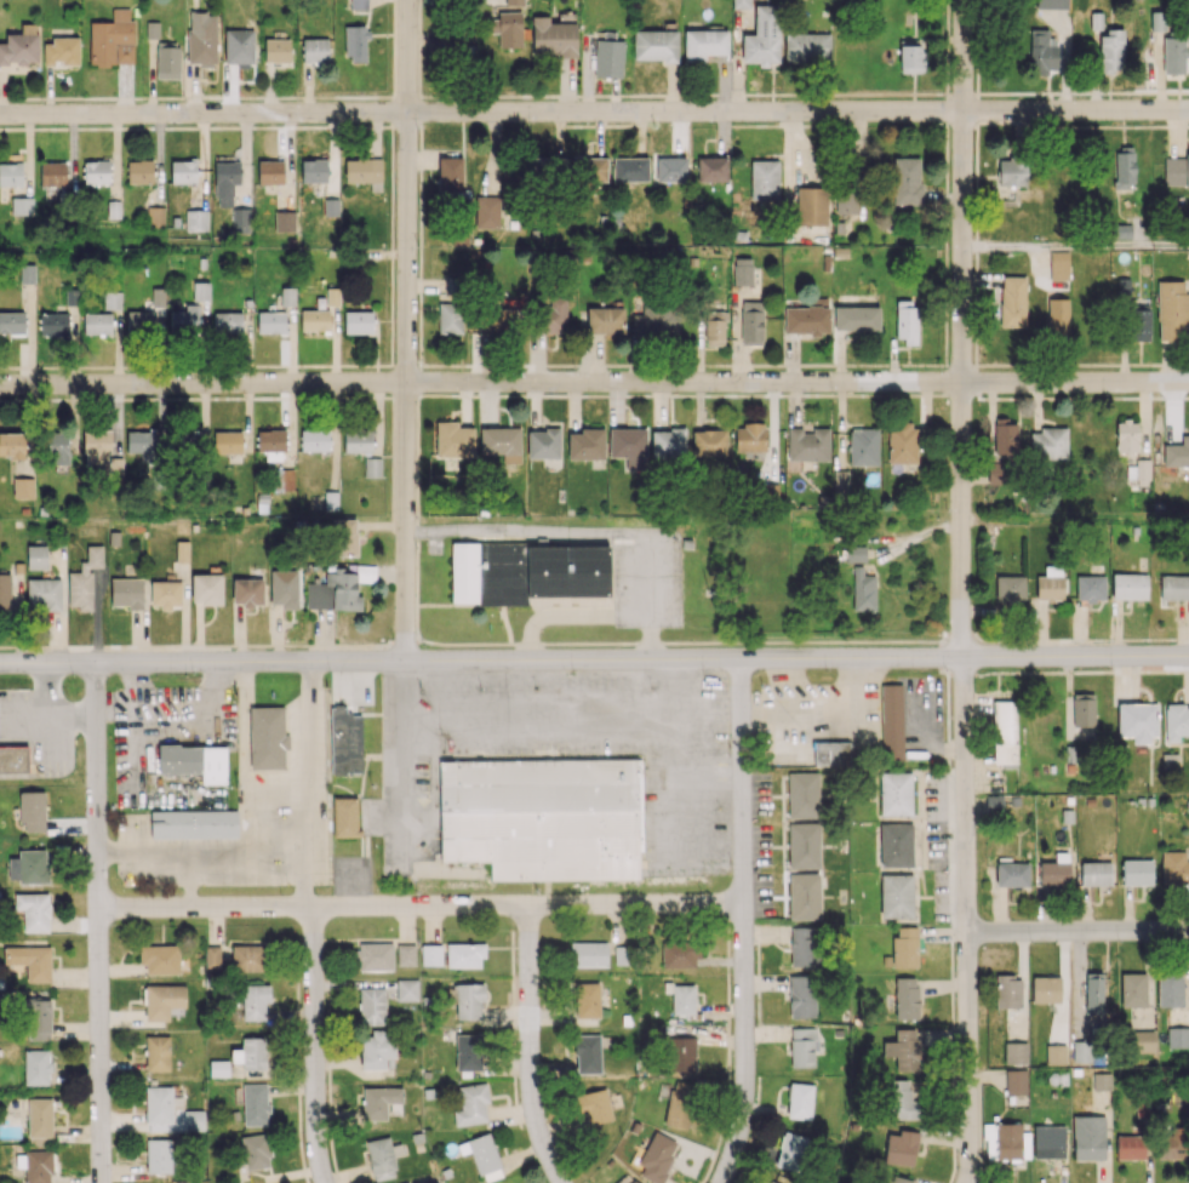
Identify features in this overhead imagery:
road: (947, 1)
building: (515, 2)
building: (359, 4)
building: (741, 4)
building: (1051, 4)
road: (947, 15)
building: (1157, 22)
building: (507, 28)
building: (762, 34)
road: (419, 36)
road: (976, 36)
building: (201, 38)
building: (553, 38)
building: (113, 39)
building: (355, 42)
building: (704, 44)
building: (656, 45)
building: (19, 46)
building: (239, 46)
road: (394, 46)
building: (807, 47)
building: (276, 50)
building: (1111, 50)
building: (61, 51)
building: (314, 51)
building: (1042, 52)
building: (1174, 53)
building: (910, 55)
road: (947, 57)
building: (608, 58)
building: (167, 62)
road: (419, 82)
road: (977, 82)
road: (945, 90)
road: (1110, 91)
road: (716, 92)
road: (749, 92)
road: (990, 92)
road: (1018, 92)
road: (692, 93)
road: (785, 93)
road: (816, 93)
road: (890, 93)
road: (458, 95)
road: (585, 95)
road: (961, 95)
road: (358, 96)
road: (161, 97)
road: (945, 105)
road: (976, 107)
road: (393, 109)
road: (594, 110)
road: (962, 121)
road: (1002, 122)
road: (1045, 124)
road: (345, 125)
road: (381, 125)
road: (599, 125)
road: (764, 125)
road: (831, 125)
road: (1126, 125)
road: (161, 126)
road: (977, 154)
road: (947, 159)
building: (1124, 167)
building: (1187, 167)
building: (548, 168)
building: (589, 168)
building: (629, 168)
building: (671, 168)
building: (711, 168)
building: (314, 170)
building: (96, 171)
building: (139, 171)
building: (183, 171)
building: (1011, 171)
building: (1173, 171)
building: (11, 172)
building: (270, 172)
building: (365, 172)
building: (52, 173)
building: (451, 178)
building: (764, 179)
building: (905, 179)
building: (225, 182)
building: (847, 200)
road: (421, 202)
building: (22, 205)
building: (811, 205)
road: (976, 206)
building: (331, 207)
road: (947, 208)
building: (487, 211)
building: (155, 216)
building: (196, 219)
building: (240, 219)
building: (285, 221)
road: (390, 245)
road: (1075, 246)
road: (945, 248)
road: (976, 257)
building: (1058, 264)
building: (743, 270)
building: (1124, 284)
road: (421, 287)
building: (200, 291)
building: (332, 296)
road: (945, 297)
building: (112, 299)
building: (1012, 301)
building: (1172, 310)
building: (149, 314)
building: (450, 314)
building: (555, 314)
road: (976, 315)
building: (184, 318)
building: (807, 318)
building: (856, 318)
building: (1058, 318)
building: (657, 319)
building: (314, 320)
building: (605, 320)
building: (12, 321)
building: (270, 321)
building: (358, 321)
building: (907, 321)
building: (97, 322)
building: (227, 322)
building: (751, 322)
building: (1139, 322)
building: (52, 324)
road: (419, 327)
building: (714, 327)
road: (961, 330)
road: (407, 331)
road: (944, 339)
road: (976, 354)
road: (995, 364)
road: (1042, 364)
road: (1120, 364)
road: (1178, 364)
road: (185, 365)
road: (319, 365)
road: (452, 365)
road: (499, 365)
road: (573, 365)
road: (661, 365)
road: (819, 365)
road: (960, 365)
road: (10, 366)
road: (48, 366)
road: (102, 366)
road: (1, 367)
road: (377, 381)
road: (594, 382)
road: (502, 394)
road: (598, 394)
road: (747, 394)
road: (891, 394)
road: (925, 394)
road: (958, 395)
road: (199, 396)
road: (331, 396)
road: (379, 396)
road: (1090, 396)
road: (1103, 396)
road: (62, 398)
road: (991, 398)
road: (1022, 398)
road: (1044, 398)
road: (1070, 398)
road: (1150, 398)
road: (10, 399)
road: (418, 418)
building: (1126, 436)
building: (749, 438)
building: (1005, 438)
building: (270, 439)
building: (314, 440)
building: (358, 440)
building: (453, 440)
building: (183, 441)
building: (227, 441)
building: (502, 442)
building: (543, 442)
building: (668, 442)
building: (708, 442)
building: (902, 442)
building: (1048, 442)
building: (13, 444)
building: (142, 444)
building: (587, 444)
building: (807, 444)
building: (97, 446)
building: (863, 446)
building: (58, 447)
road: (418, 447)
building: (1177, 452)
building: (282, 479)
building: (840, 480)
building: (23, 487)
building: (767, 491)
building: (331, 499)
road: (1075, 518)
building: (343, 537)
road: (417, 549)
building: (182, 550)
building: (856, 553)
building: (36, 556)
building: (526, 572)
building: (84, 579)
building: (1050, 583)
building: (1130, 585)
building: (1091, 587)
building: (1174, 587)
building: (206, 588)
building: (284, 588)
building: (1010, 588)
building: (338, 589)
building: (4, 590)
building: (863, 590)
building: (126, 591)
building: (247, 591)
building: (44, 593)
building: (165, 594)
road: (1110, 639)
road: (983, 640)
road: (1013, 640)
road: (847, 641)
road: (404, 642)
road: (579, 642)
road: (748, 642)
road: (218, 644)
road: (30, 646)
road: (10, 647)
road: (594, 661)
road: (40, 697)
road: (52, 707)
building: (1081, 718)
road: (46, 721)
building: (891, 721)
building: (1137, 721)
building: (1176, 721)
road: (827, 726)
road: (556, 733)
building: (1004, 733)
building: (267, 738)
building: (344, 741)
building: (830, 753)
building: (13, 759)
building: (195, 761)
road: (305, 784)
building: (894, 793)
building: (804, 794)
building: (988, 806)
building: (32, 810)
building: (344, 816)
building: (543, 817)
building: (194, 823)
road: (202, 845)
building: (804, 845)
building: (896, 845)
building: (29, 867)
building: (1174, 867)
building: (1054, 870)
building: (1137, 871)
building: (1096, 873)
building: (1012, 874)
building: (804, 896)
building: (896, 896)
road: (423, 908)
building: (34, 910)
road: (966, 921)
road: (745, 922)
road: (102, 924)
road: (1077, 935)
building: (801, 945)
building: (905, 947)
building: (589, 953)
building: (679, 953)
building: (405, 954)
building: (430, 954)
building: (464, 954)
building: (212, 956)
building: (375, 956)
building: (247, 958)
building: (159, 959)
building: (30, 961)
building: (1170, 988)
building: (407, 989)
building: (1046, 989)
building: (1133, 989)
building: (1008, 990)
building: (1093, 993)
building: (801, 995)
building: (907, 998)
building: (465, 999)
building: (682, 999)
building: (162, 1000)
building: (587, 1000)
building: (253, 1001)
building: (372, 1006)
building: (36, 1018)
building: (1177, 1036)
building: (1141, 1041)
road: (314, 1046)
building: (804, 1046)
road: (533, 1047)
building: (377, 1048)
building: (904, 1048)
building: (468, 1051)
building: (1082, 1051)
building: (1016, 1052)
building: (156, 1053)
building: (251, 1053)
building: (587, 1053)
building: (681, 1053)
building: (1056, 1053)
building: (39, 1068)
building: (218, 1068)
building: (1016, 1081)
building: (1102, 1081)
building: (901, 1098)
building: (378, 1101)
building: (800, 1101)
building: (255, 1103)
building: (471, 1104)
building: (680, 1104)
building: (594, 1107)
building: (39, 1116)
building: (194, 1120)
building: (1088, 1137)
building: (1011, 1141)
building: (1172, 1143)
building: (1048, 1144)
building: (901, 1147)
building: (1130, 1147)
building: (256, 1150)
building: (790, 1150)
building: (159, 1155)
building: (482, 1155)
building: (657, 1156)
building: (381, 1158)
building: (35, 1166)
building: (896, 1179)
building: (633, 1181)
building: (408, 1182)
building: (770, 1182)

